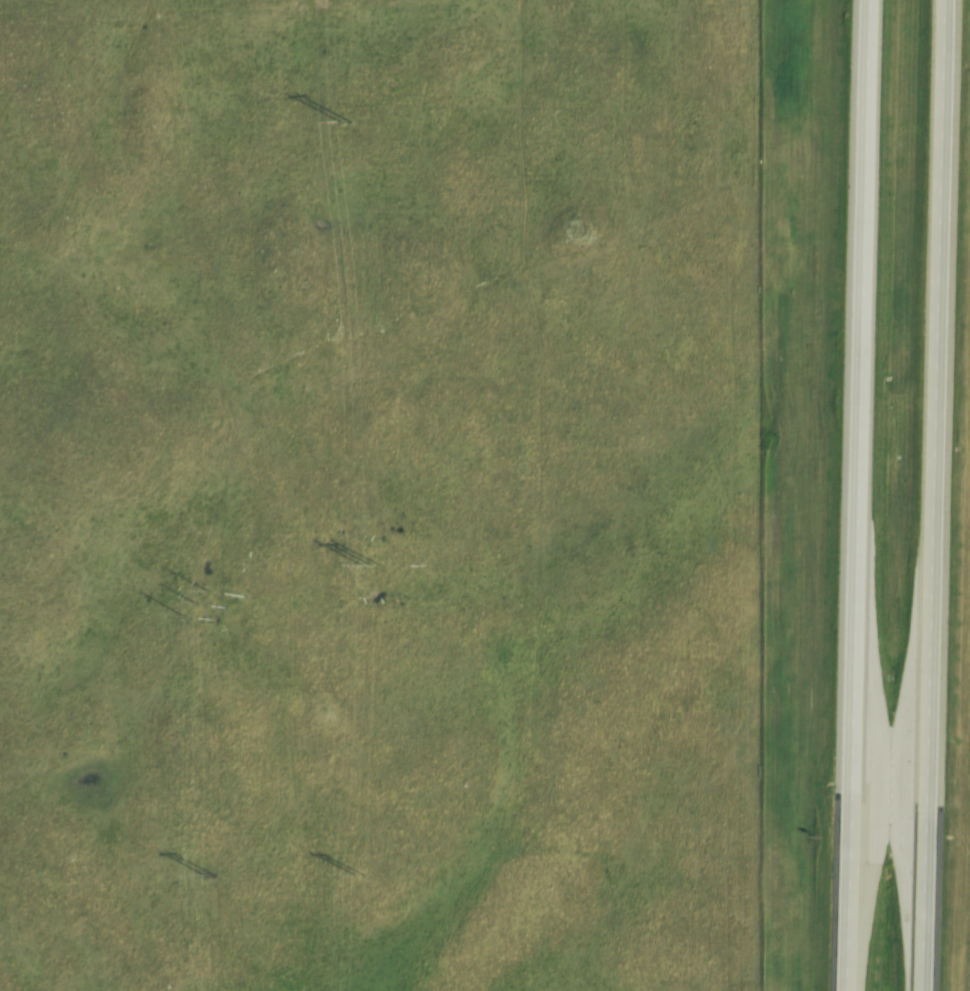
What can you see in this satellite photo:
power tower: (338, 120)
road: (859, 495)
road: (943, 495)
power tower: (363, 563)
power tower: (189, 603)
power tower: (350, 873)
power tower: (202, 874)

